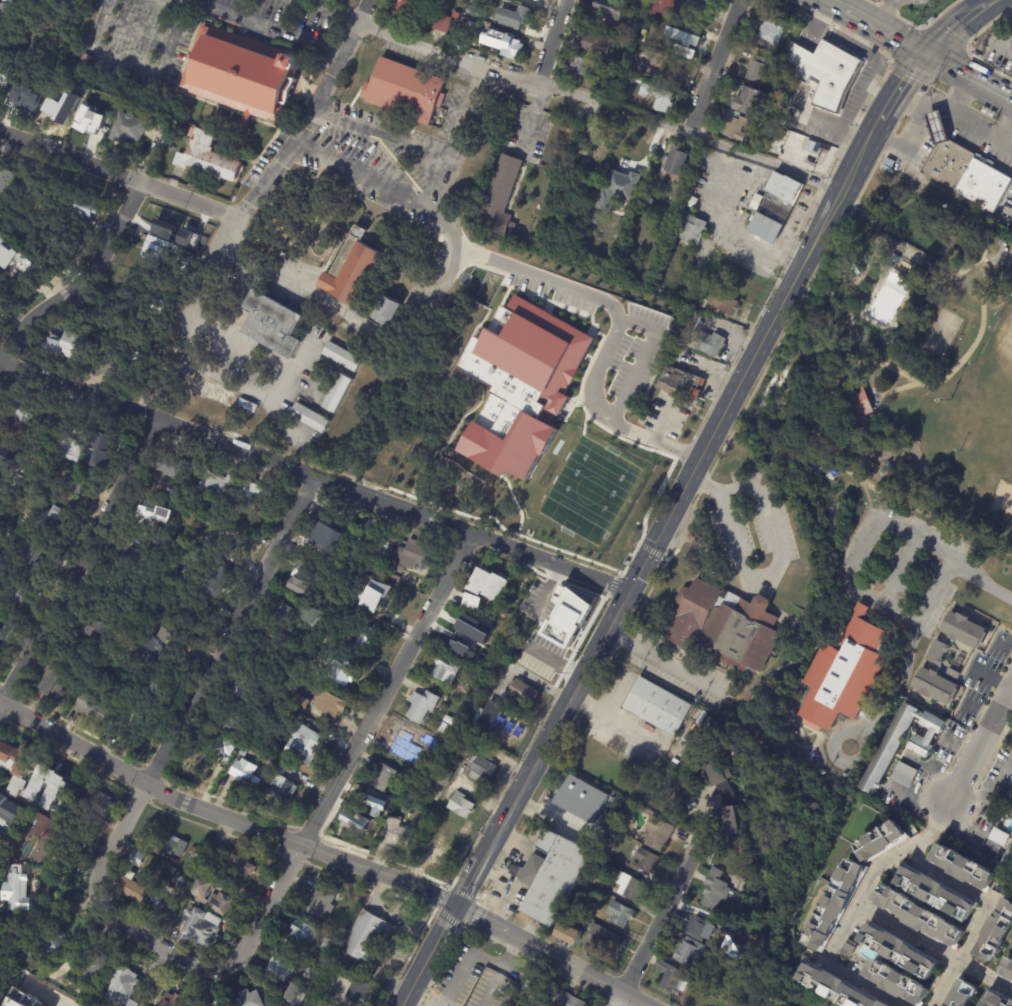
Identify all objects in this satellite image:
road: (987, 1)
road: (987, 2)
road: (1008, 3)
road: (172, 4)
building: (700, 7)
road: (828, 7)
building: (410, 8)
building: (8, 9)
building: (662, 9)
road: (364, 11)
building: (608, 11)
building: (525, 14)
building: (457, 16)
road: (886, 16)
building: (442, 23)
road: (269, 26)
building: (771, 28)
road: (953, 30)
road: (137, 32)
road: (882, 35)
building: (687, 39)
road: (550, 42)
building: (509, 45)
building: (594, 45)
building: (683, 51)
building: (85, 58)
traffic signals: (924, 58)
road: (934, 63)
road: (335, 64)
building: (577, 66)
road: (714, 66)
road: (138, 68)
building: (755, 71)
building: (6, 72)
building: (640, 72)
building: (823, 72)
road: (953, 73)
building: (37, 74)
building: (244, 74)
building: (672, 74)
building: (635, 80)
building: (153, 86)
road: (898, 86)
building: (85, 89)
road: (984, 89)
building: (407, 91)
road: (569, 91)
road: (956, 91)
building: (28, 92)
building: (920, 93)
building: (655, 97)
road: (906, 103)
road: (1010, 104)
road: (937, 107)
building: (64, 108)
building: (983, 110)
building: (743, 113)
building: (990, 114)
road: (531, 119)
building: (97, 120)
road: (301, 123)
building: (975, 123)
road: (1005, 127)
building: (129, 128)
building: (565, 129)
road: (377, 132)
building: (597, 133)
building: (766, 133)
road: (452, 134)
building: (797, 138)
building: (210, 157)
road: (71, 158)
building: (674, 162)
building: (886, 167)
building: (964, 169)
road: (361, 170)
road: (263, 178)
building: (6, 181)
building: (620, 187)
building: (502, 198)
road: (189, 199)
building: (688, 201)
building: (645, 205)
building: (773, 207)
building: (87, 208)
road: (969, 217)
building: (594, 219)
building: (165, 228)
building: (691, 231)
building: (189, 238)
building: (64, 243)
building: (157, 253)
road: (1011, 256)
road: (996, 257)
building: (14, 260)
building: (892, 260)
road: (979, 260)
building: (186, 261)
building: (353, 269)
parking lot: (1007, 269)
road: (78, 282)
road: (998, 282)
building: (721, 303)
road: (613, 308)
building: (393, 314)
road: (183, 315)
building: (275, 324)
building: (691, 324)
park: (940, 332)
building: (709, 344)
building: (69, 346)
building: (136, 356)
building: (343, 356)
road: (642, 359)
road: (960, 360)
building: (114, 366)
park: (994, 366)
building: (680, 384)
building: (521, 385)
building: (214, 393)
building: (338, 393)
park: (891, 395)
building: (859, 403)
park: (529, 404)
building: (248, 406)
building: (415, 411)
building: (26, 413)
building: (310, 418)
road: (665, 420)
road: (763, 423)
building: (2, 428)
building: (109, 439)
building: (68, 447)
building: (103, 451)
building: (11, 458)
road: (834, 462)
building: (174, 467)
road: (313, 475)
building: (219, 483)
building: (71, 490)
building: (255, 493)
building: (31, 495)
park: (1001, 497)
building: (220, 503)
building: (240, 507)
building: (150, 512)
building: (213, 524)
building: (49, 525)
building: (329, 533)
building: (8, 535)
building: (691, 538)
building: (200, 541)
building: (160, 542)
building: (380, 546)
building: (358, 552)
building: (34, 556)
building: (139, 557)
building: (414, 557)
road: (78, 561)
building: (352, 563)
building: (625, 563)
road: (641, 563)
road: (973, 571)
road: (760, 572)
road: (854, 576)
building: (304, 580)
building: (397, 580)
building: (480, 581)
building: (215, 582)
building: (491, 592)
building: (17, 595)
building: (376, 596)
building: (119, 597)
building: (471, 601)
building: (576, 604)
building: (529, 605)
road: (935, 609)
building: (591, 615)
building: (283, 617)
building: (317, 618)
building: (2, 626)
building: (723, 626)
building: (470, 631)
building: (86, 633)
building: (161, 641)
building: (0, 644)
building: (0, 647)
building: (546, 658)
building: (937, 658)
road: (664, 661)
building: (297, 669)
building: (447, 669)
building: (343, 671)
building: (953, 674)
building: (840, 676)
building: (467, 679)
building: (158, 682)
building: (55, 683)
road: (198, 685)
building: (247, 688)
road: (893, 690)
building: (278, 694)
building: (521, 694)
building: (302, 704)
building: (332, 705)
building: (423, 705)
building: (656, 706)
building: (94, 709)
building: (443, 709)
building: (138, 715)
building: (491, 715)
building: (449, 719)
building: (232, 720)
building: (444, 727)
road: (979, 738)
building: (472, 740)
building: (404, 741)
building: (266, 745)
building: (307, 746)
building: (229, 748)
building: (437, 751)
building: (246, 752)
building: (885, 754)
road: (349, 755)
building: (15, 765)
building: (484, 768)
building: (713, 773)
building: (386, 776)
building: (446, 776)
building: (901, 776)
building: (247, 778)
building: (283, 785)
building: (60, 789)
building: (1008, 795)
building: (366, 796)
building: (579, 800)
building: (627, 802)
building: (464, 806)
building: (102, 807)
building: (625, 810)
building: (3, 814)
building: (26, 815)
building: (358, 821)
building: (728, 822)
building: (468, 825)
road: (932, 832)
building: (399, 833)
building: (660, 833)
building: (50, 839)
building: (431, 839)
building: (996, 839)
building: (880, 841)
building: (175, 845)
building: (192, 849)
road: (323, 851)
building: (137, 857)
building: (211, 858)
road: (896, 859)
building: (600, 860)
building: (647, 860)
building: (1006, 861)
building: (2, 863)
building: (962, 867)
building: (242, 868)
building: (173, 870)
building: (551, 877)
building: (598, 880)
building: (183, 883)
building: (632, 886)
building: (133, 888)
building: (16, 890)
building: (716, 890)
building: (935, 893)
building: (212, 897)
building: (165, 899)
building: (323, 900)
building: (582, 904)
building: (834, 904)
traffic signals: (454, 905)
building: (622, 913)
building: (918, 916)
building: (736, 919)
road: (654, 924)
building: (202, 927)
building: (703, 927)
building: (995, 931)
building: (343, 933)
building: (572, 934)
building: (305, 936)
building: (369, 938)
building: (605, 939)
road: (151, 941)
building: (43, 944)
building: (331, 945)
road: (932, 949)
building: (898, 950)
building: (690, 951)
building: (306, 954)
building: (325, 959)
building: (281, 966)
building: (1006, 969)
building: (93, 970)
building: (739, 971)
building: (313, 974)
building: (674, 978)
building: (896, 982)
building: (529, 985)
building: (123, 988)
building: (360, 992)
road: (48, 994)
building: (861, 994)
building: (294, 995)
building: (730, 997)
building: (249, 999)
building: (172, 1000)
building: (570, 1000)
building: (996, 1000)
building: (950, 1001)
building: (215, 1003)
building: (500, 1003)
building: (38, 1005)
building: (894, 1005)
building: (968, 1005)

